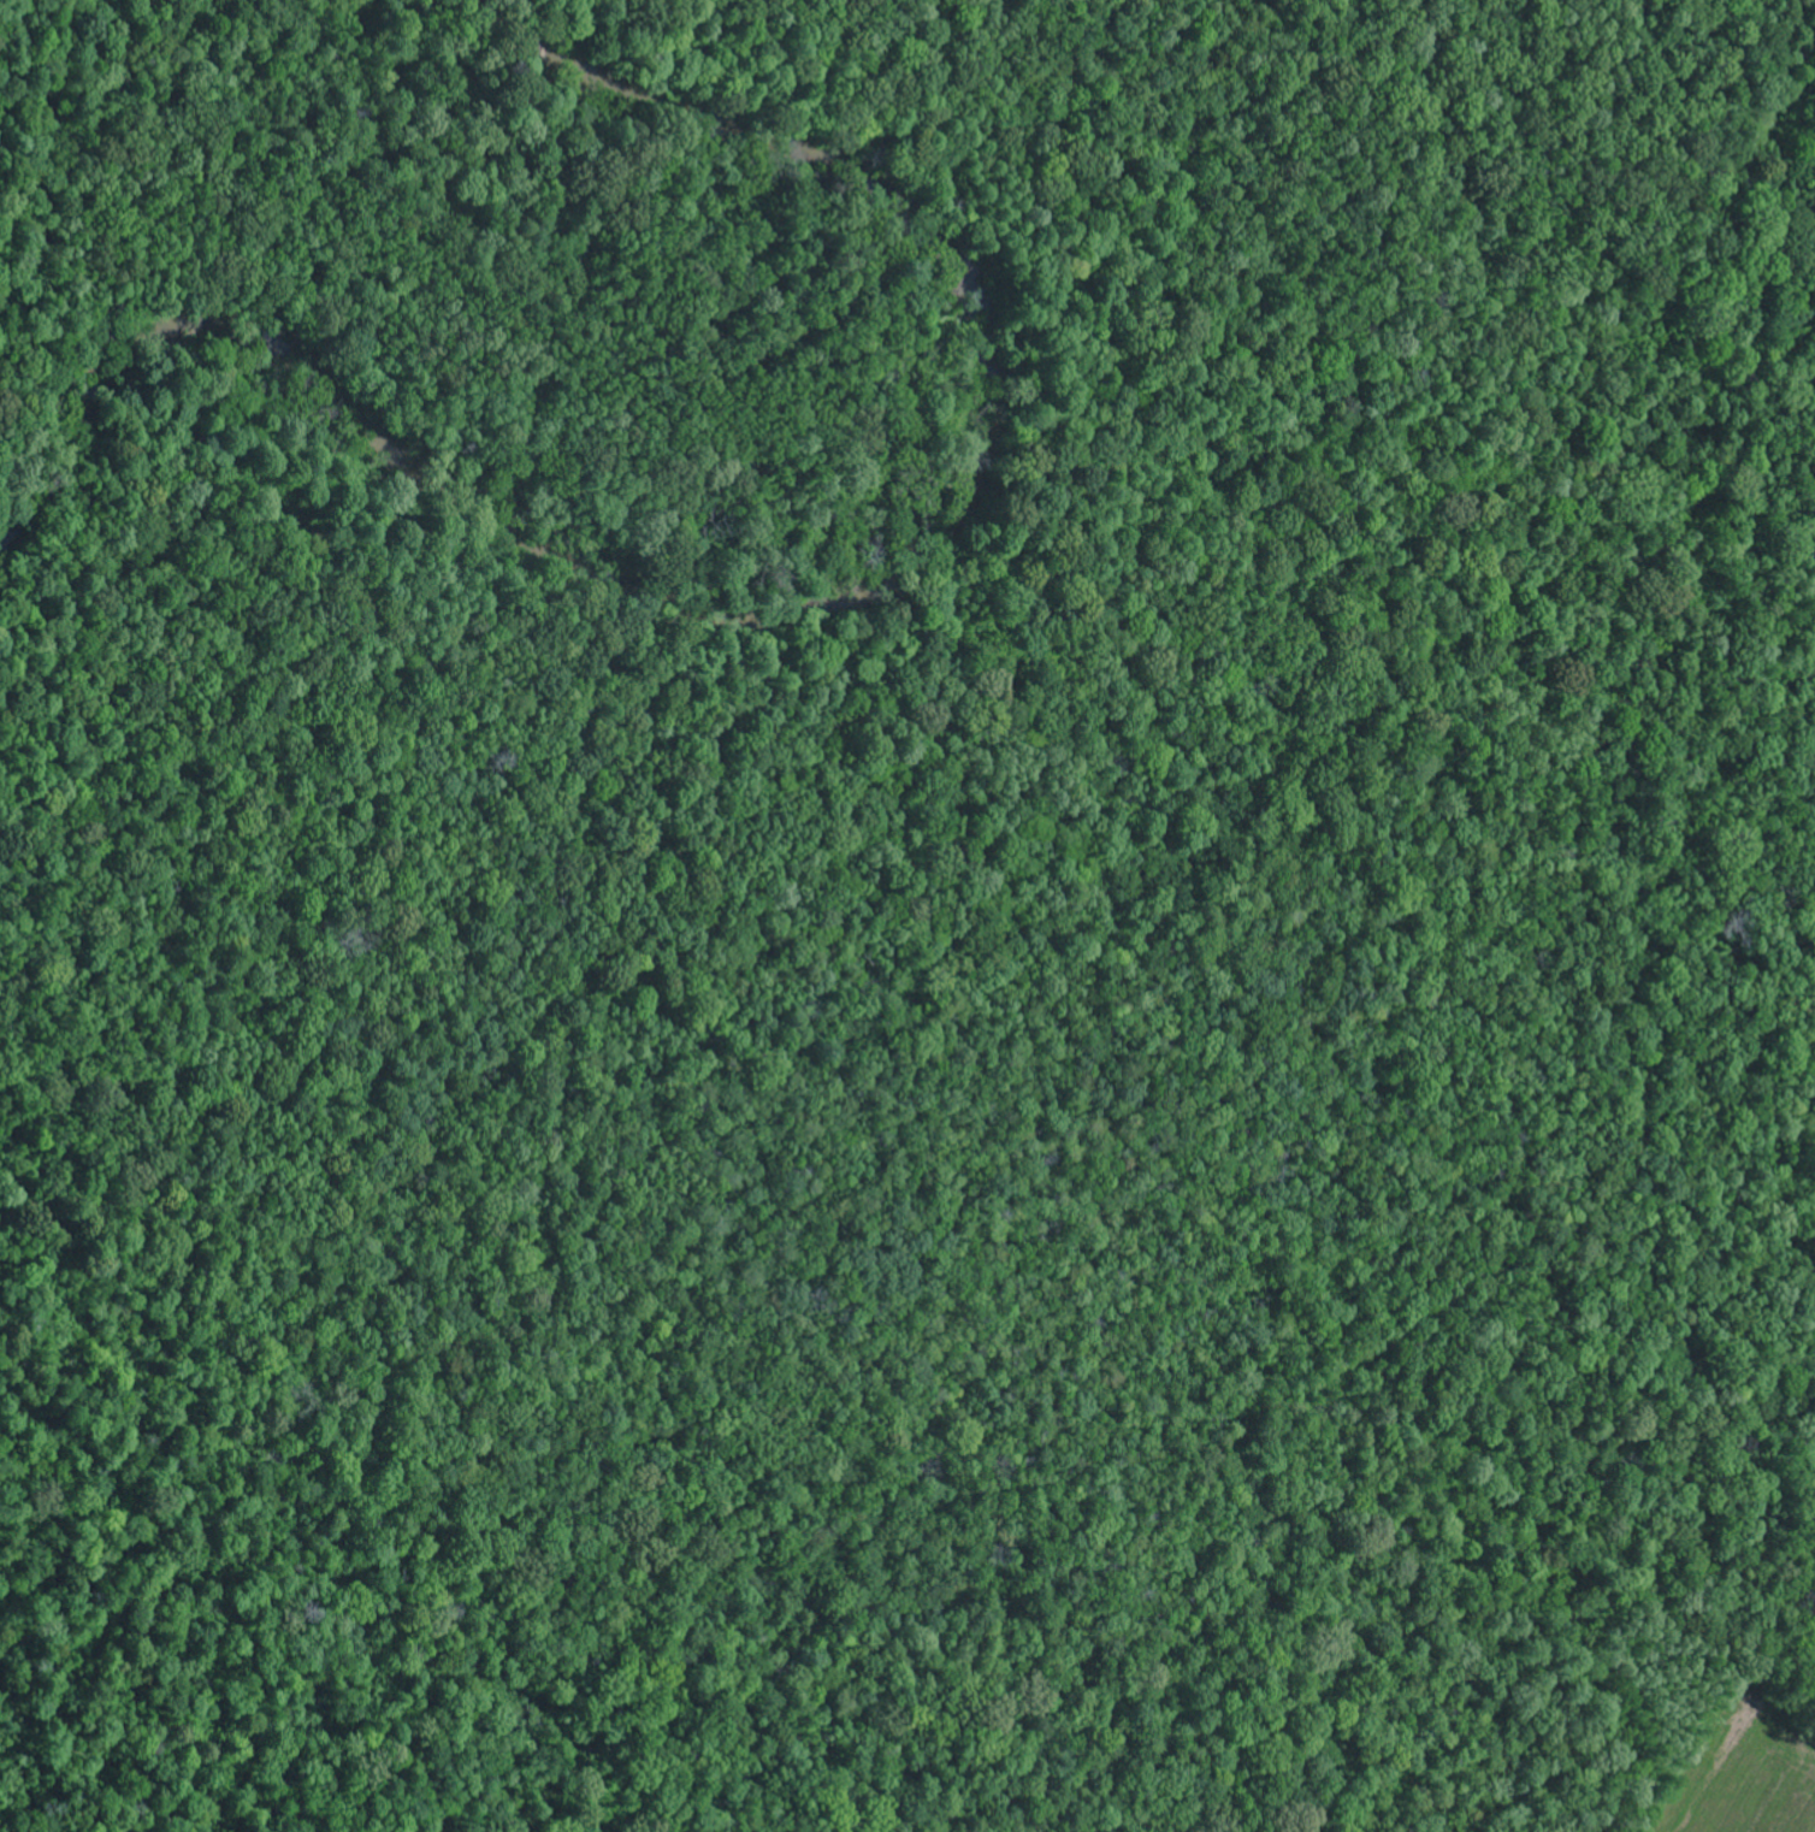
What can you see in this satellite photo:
river: (815, 609)

